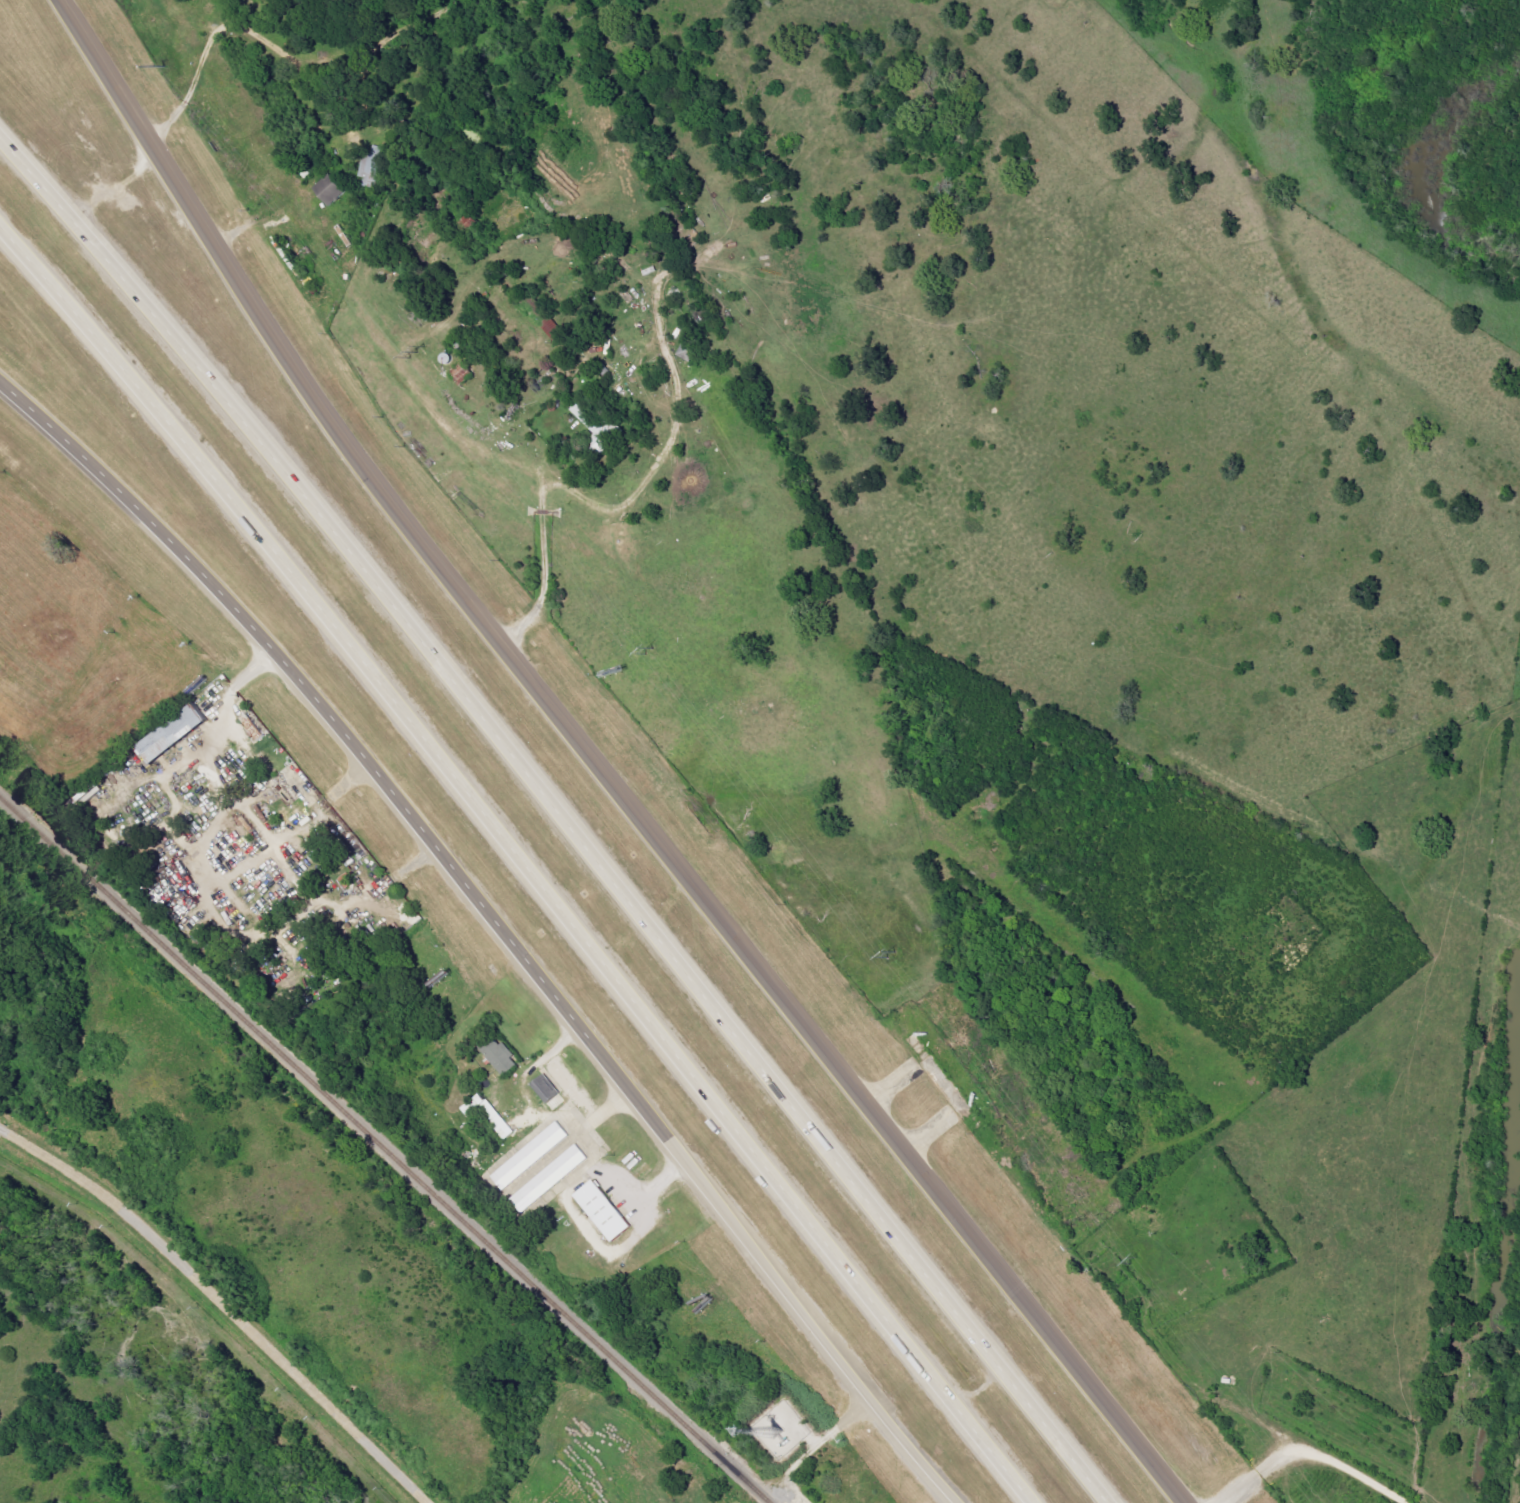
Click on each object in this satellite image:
road: (248, 32)
power tower: (167, 67)
building: (373, 168)
building: (331, 190)
road: (254, 217)
road: (138, 303)
building: (544, 318)
power tower: (416, 352)
building: (463, 375)
building: (595, 428)
road: (635, 491)
road: (543, 569)
power tower: (658, 655)
building: (175, 736)
road: (597, 766)
road: (260, 828)
road: (260, 853)
road: (519, 862)
road: (454, 876)
building: (347, 881)
power tower: (893, 960)
road: (694, 981)
building: (501, 1056)
road: (942, 1081)
building: (547, 1090)
road: (611, 1103)
building: (491, 1116)
road: (593, 1138)
railway: (385, 1149)
building: (531, 1156)
building: (550, 1179)
building: (606, 1212)
power tower: (1133, 1257)
road: (221, 1305)
road: (827, 1437)
road: (912, 1454)
road: (1310, 1454)
railway: (1515, 1472)

